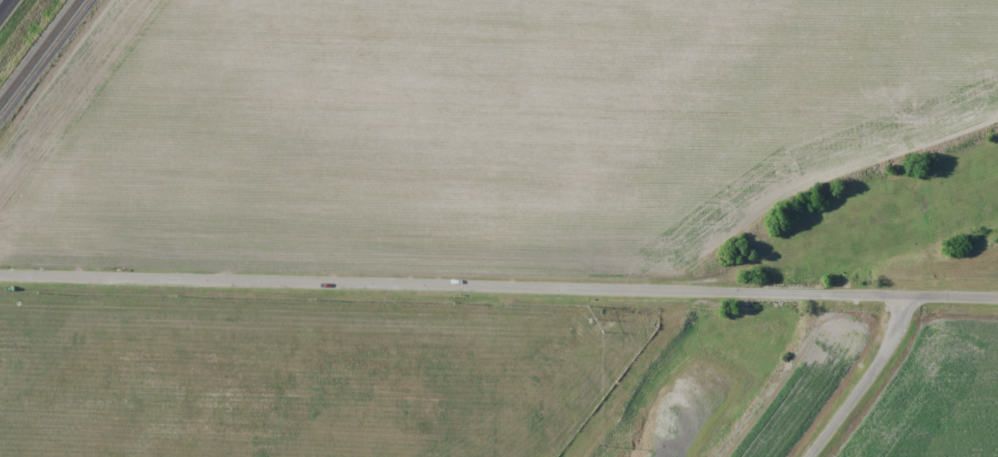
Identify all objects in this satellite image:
road: (5, 6)
railway: (38, 49)
railway: (43, 58)
road: (499, 285)
road: (864, 375)

